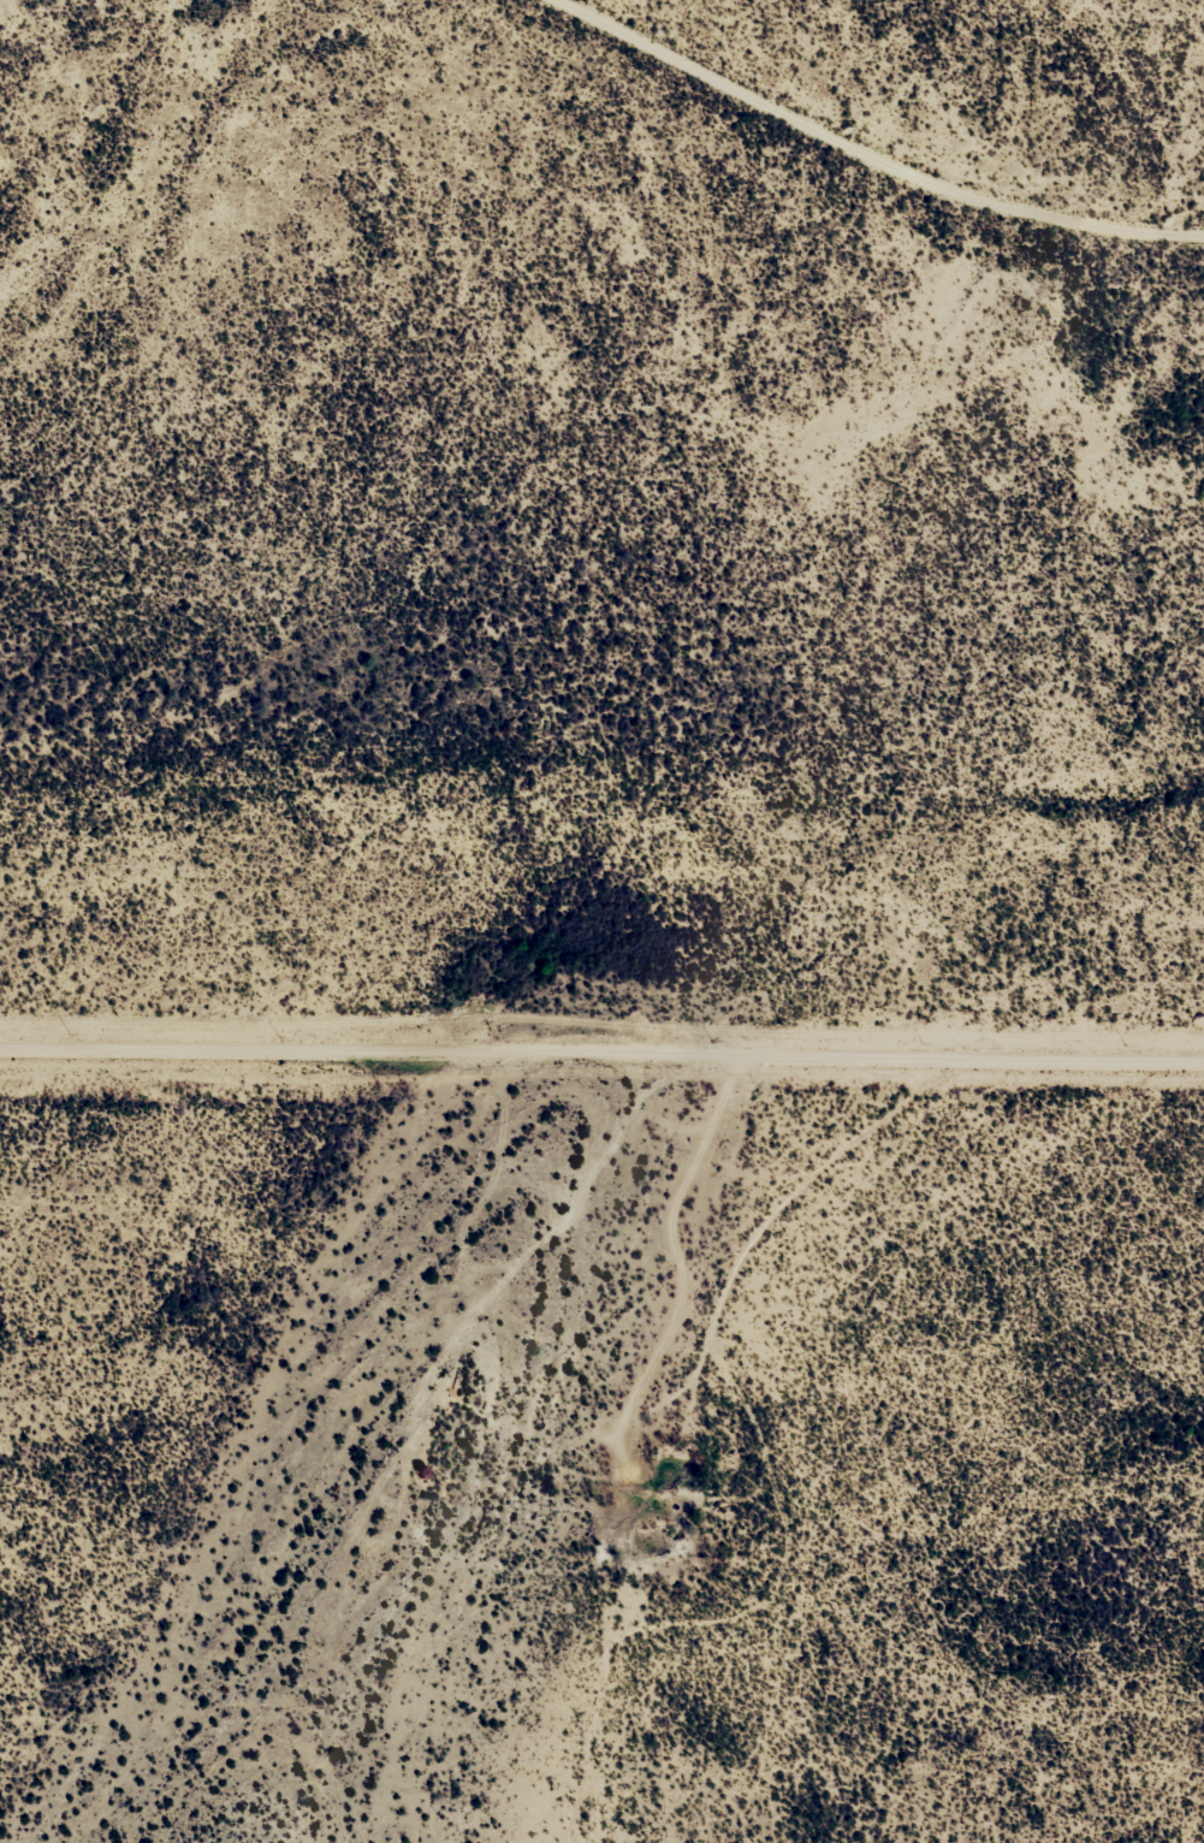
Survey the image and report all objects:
road: (860, 160)
road: (603, 1023)

